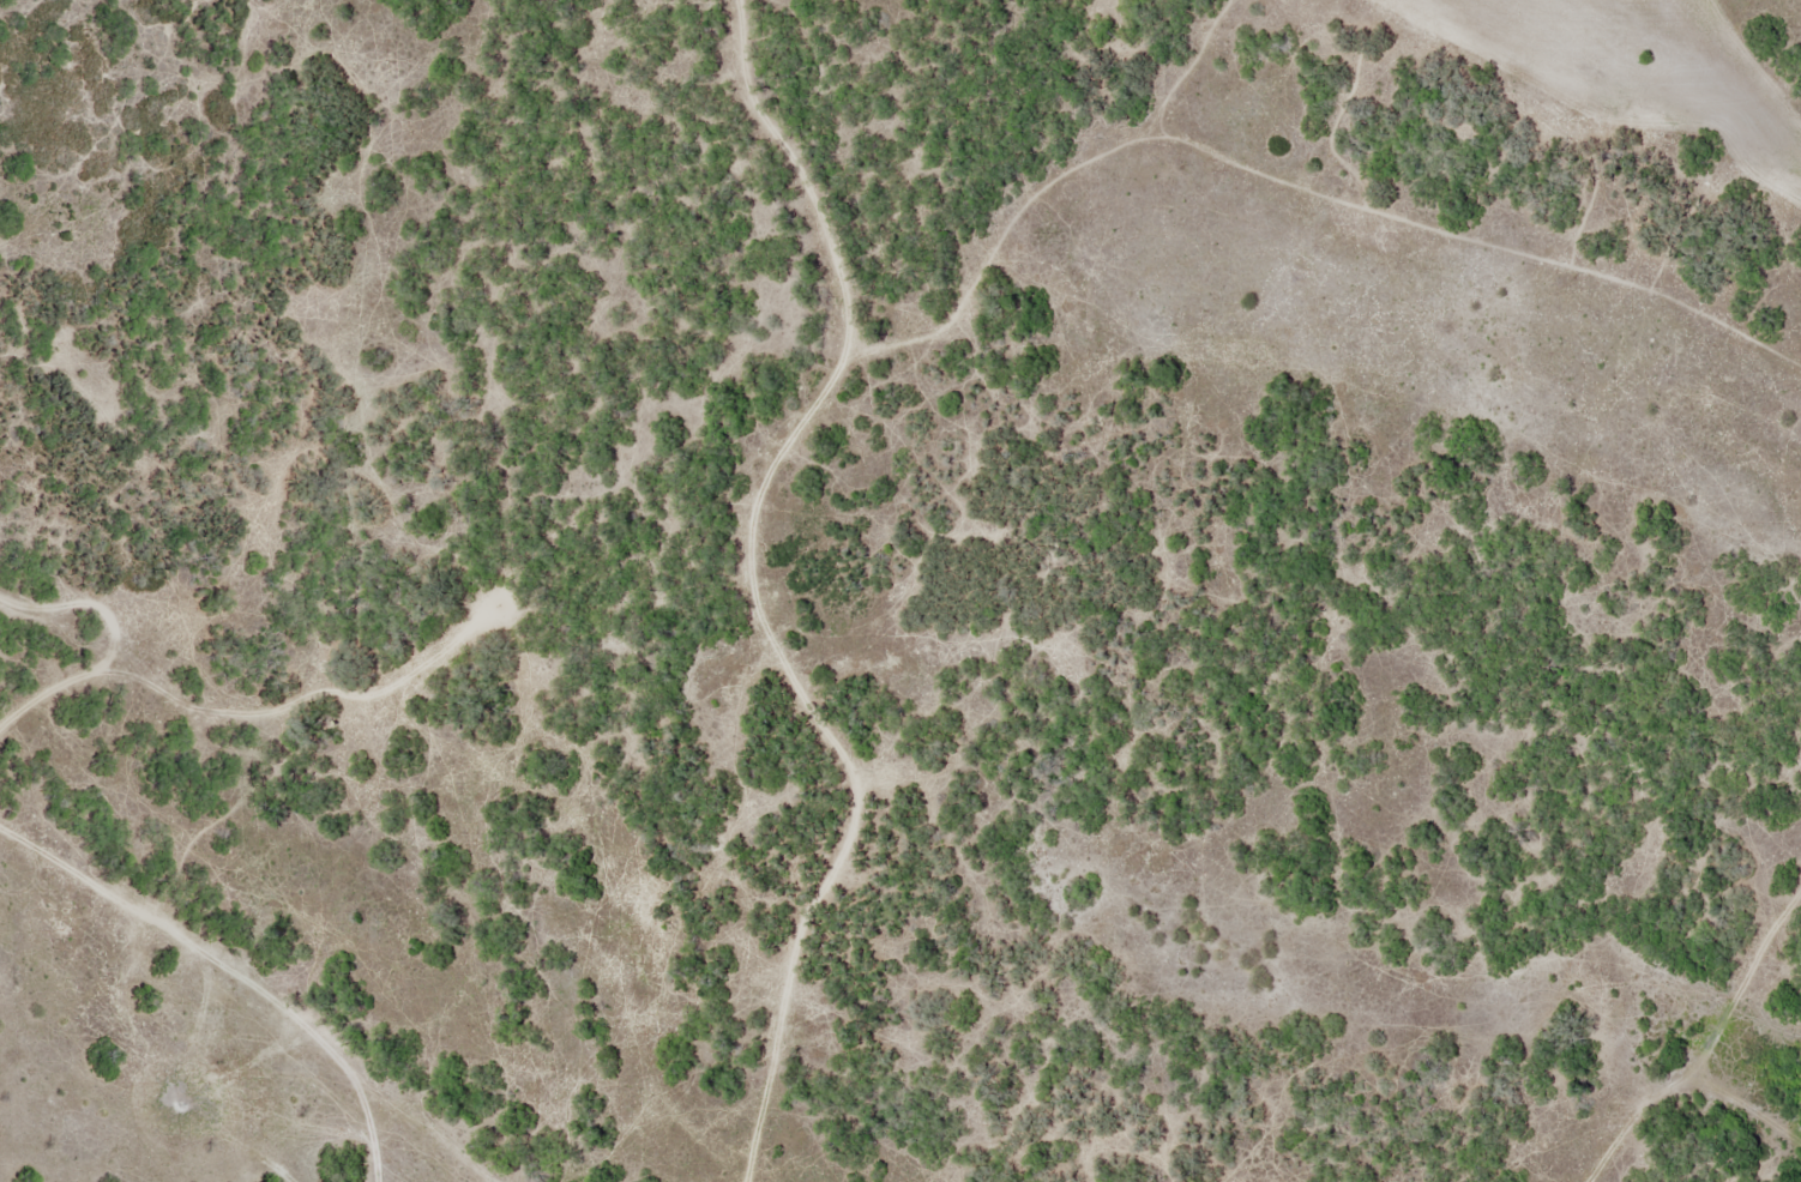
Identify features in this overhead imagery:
road: (1327, 385)
road: (758, 577)

